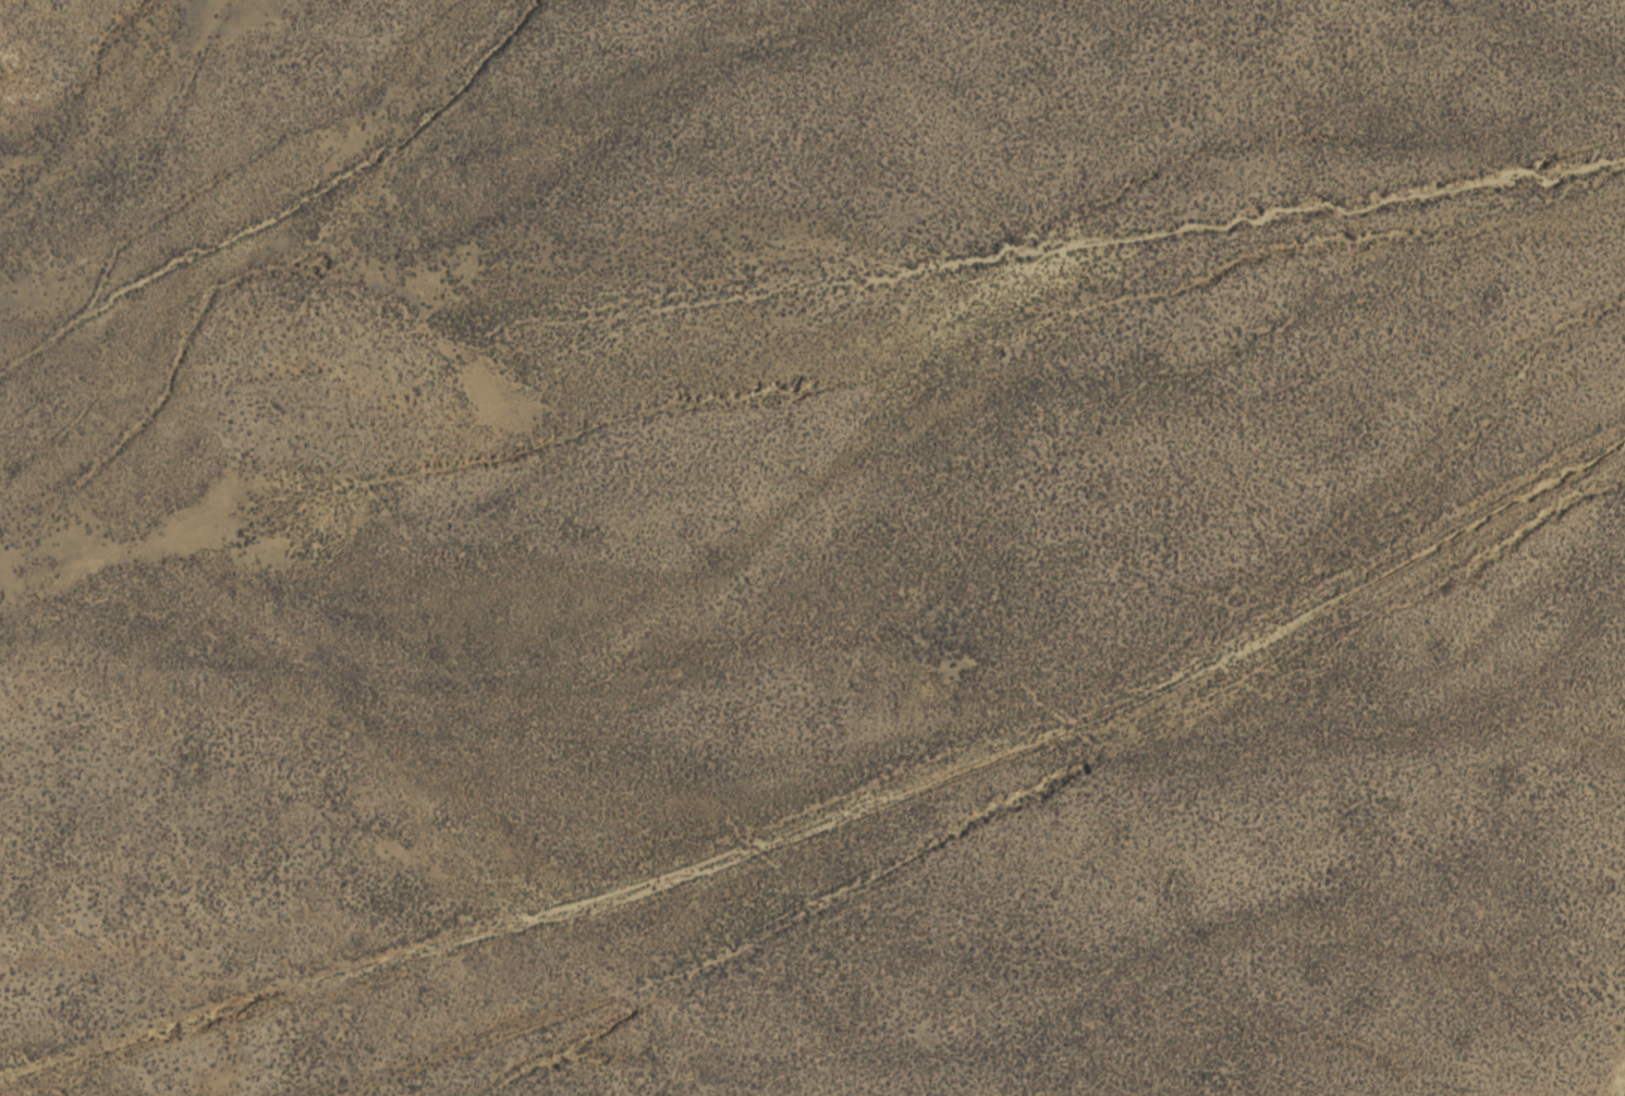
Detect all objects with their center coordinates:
road: (885, 795)

